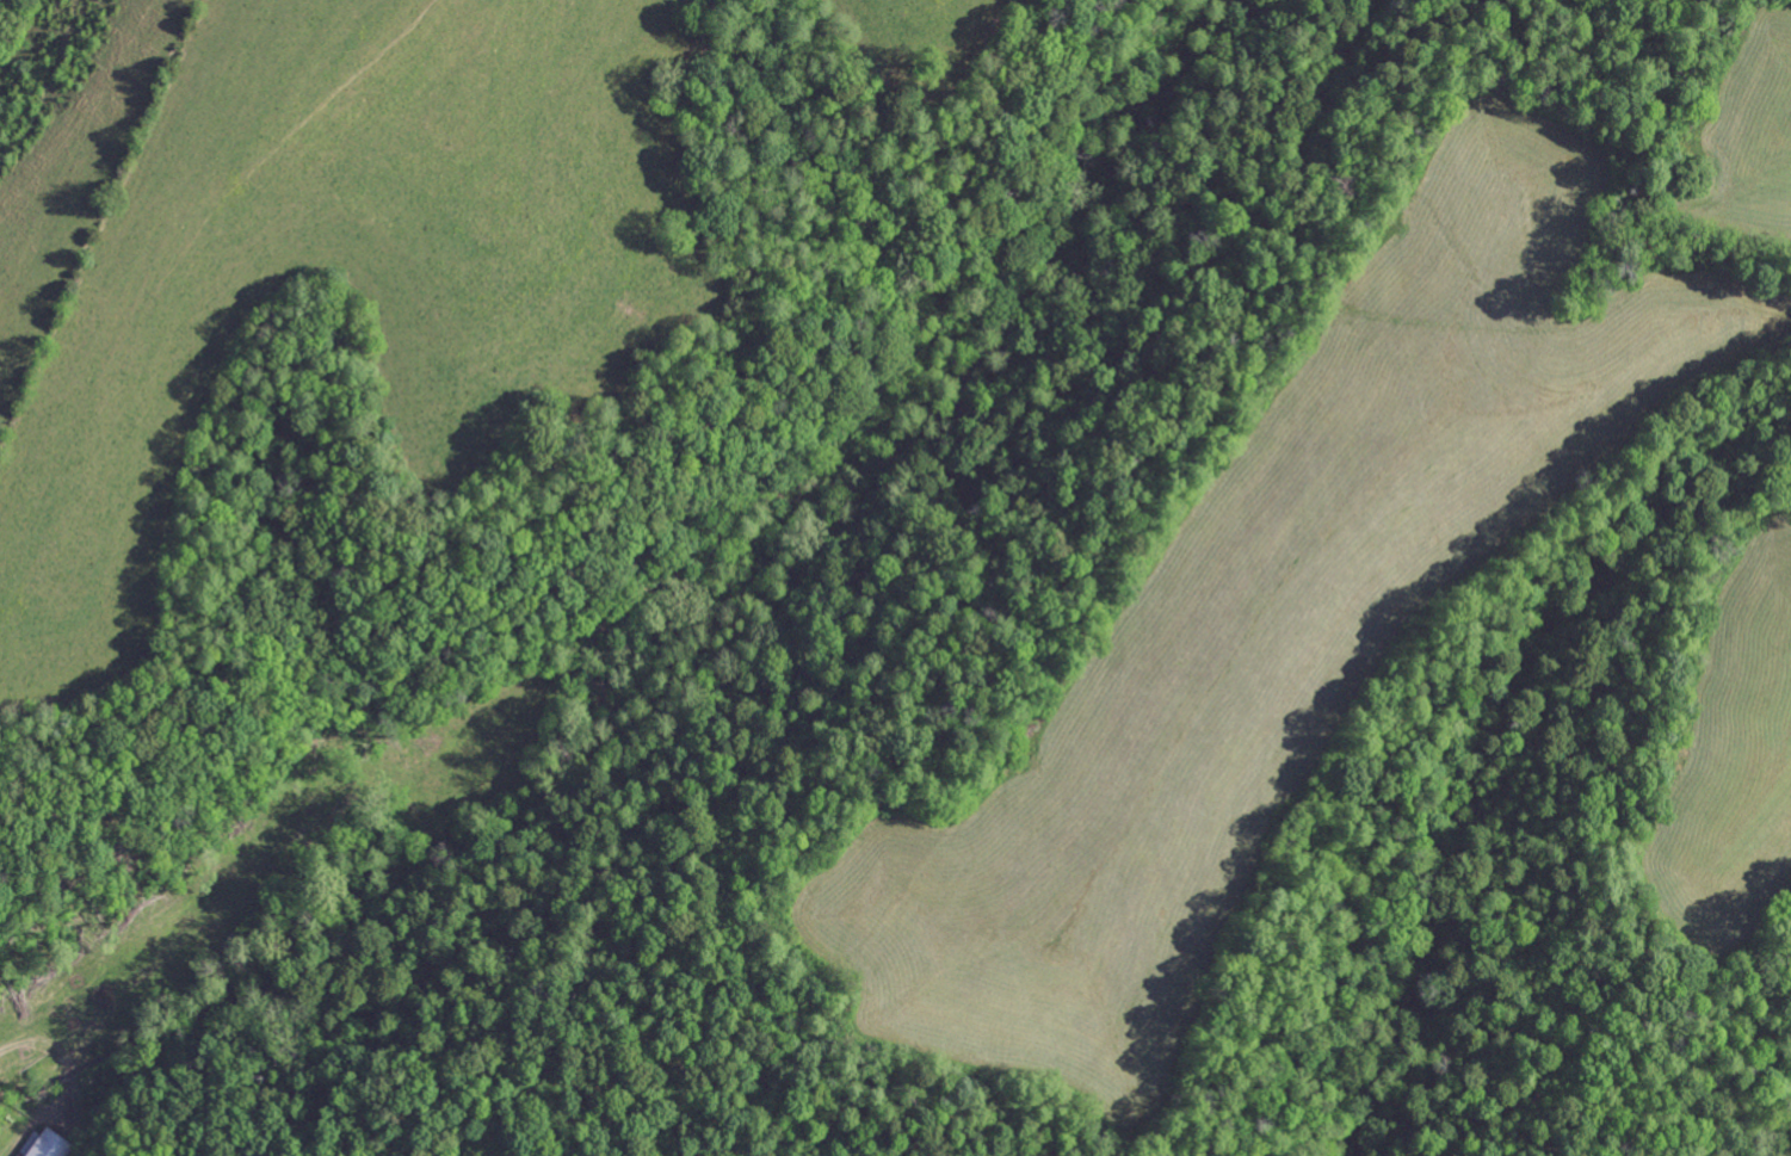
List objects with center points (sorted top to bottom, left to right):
building: (47, 1145)

